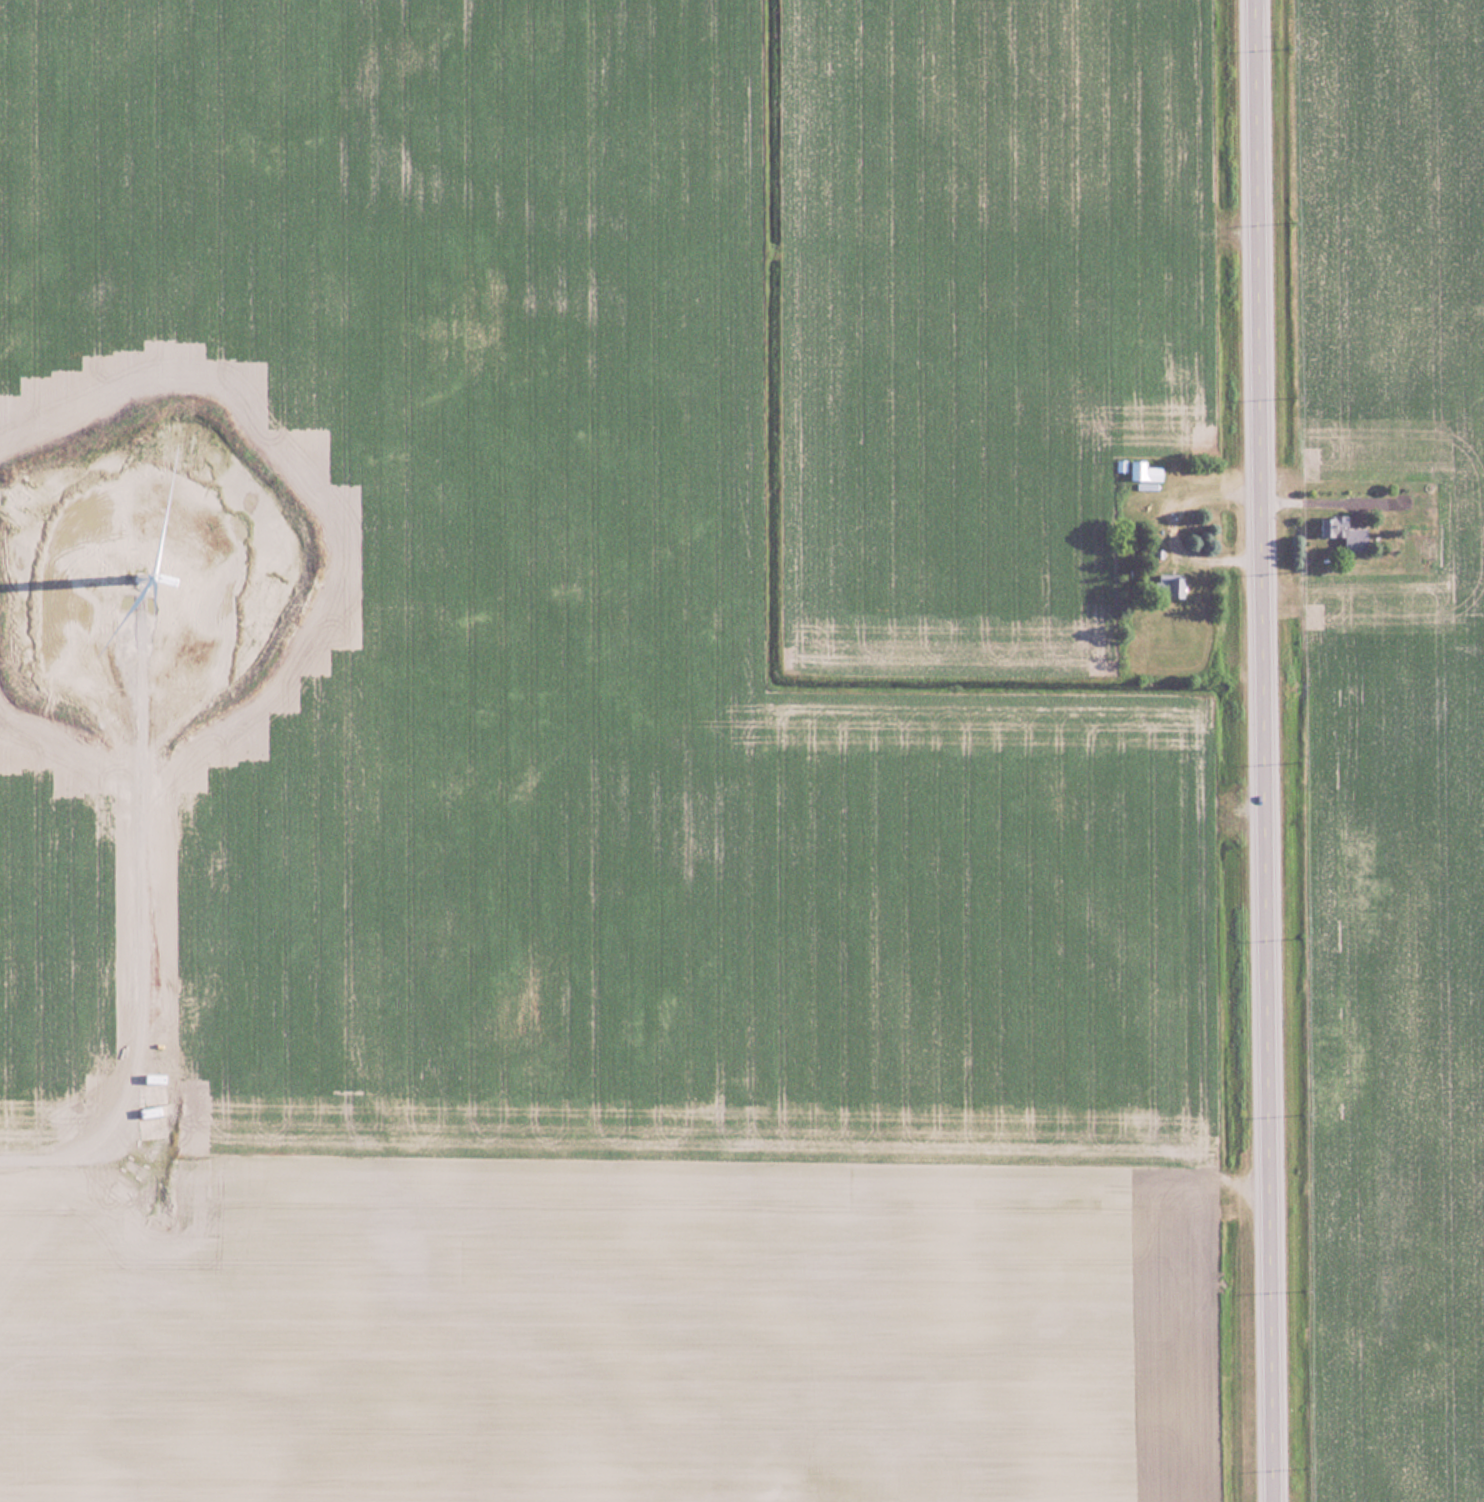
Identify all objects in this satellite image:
building: (1146, 472)
building: (1347, 532)
building: (1164, 580)
building: (1179, 586)
wind turbine: (139, 589)
road: (1267, 751)

